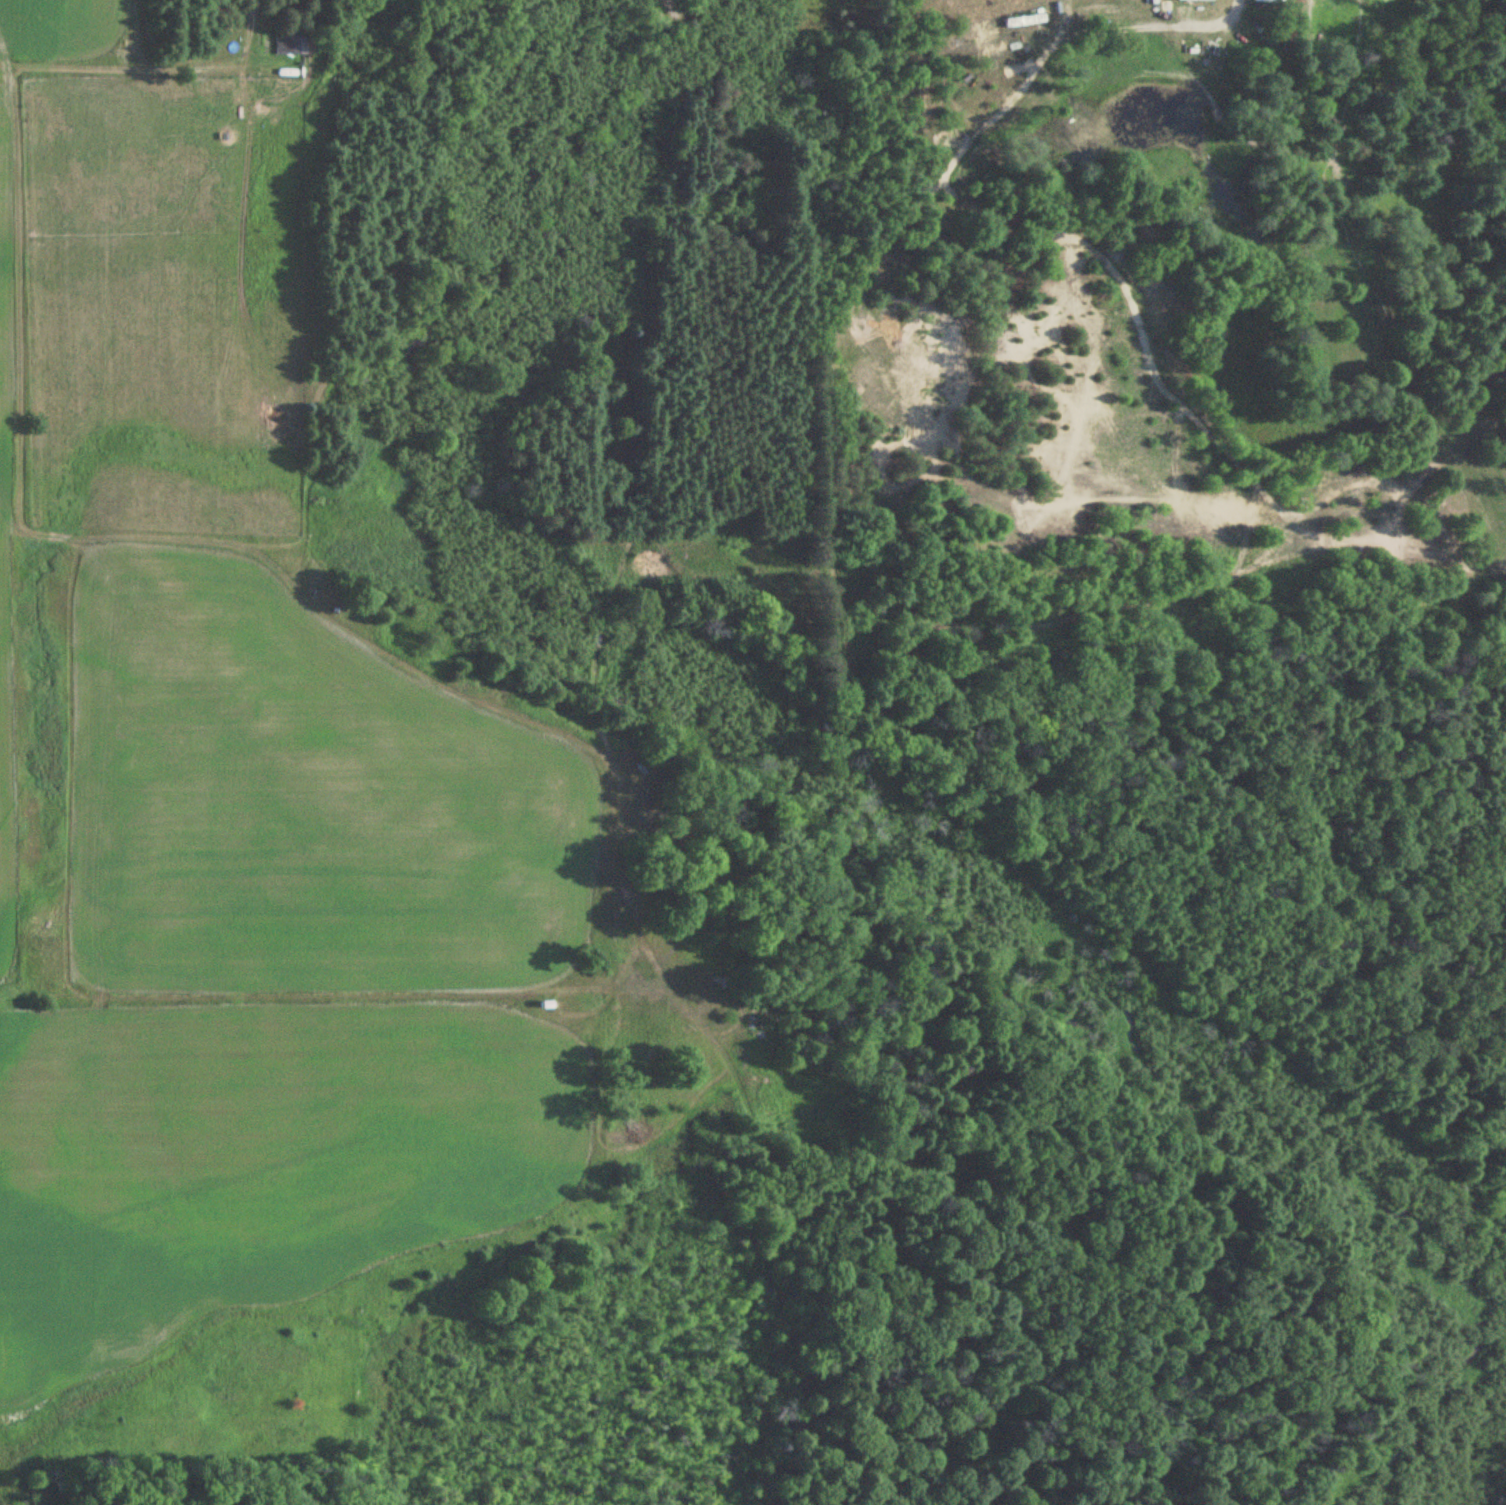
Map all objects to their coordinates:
building: (1268, 0)
building: (1021, 20)
building: (290, 44)

